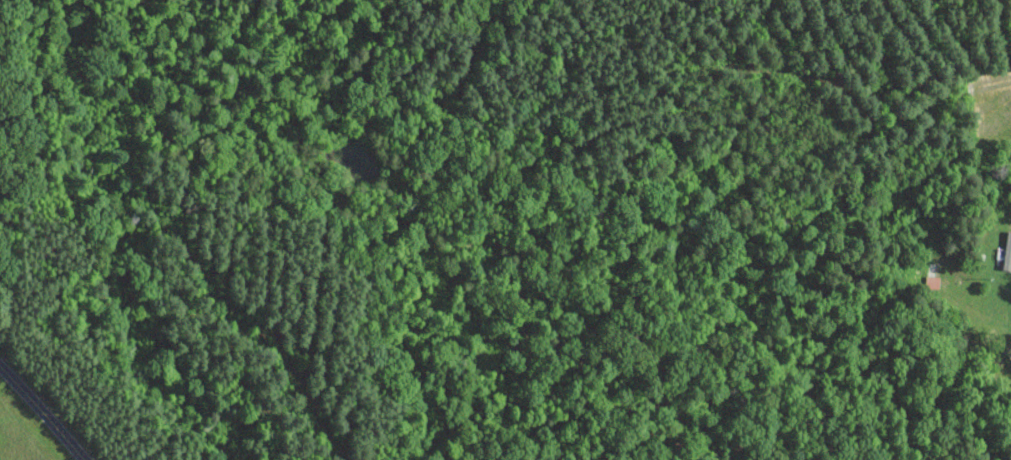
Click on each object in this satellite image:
road: (40, 416)

